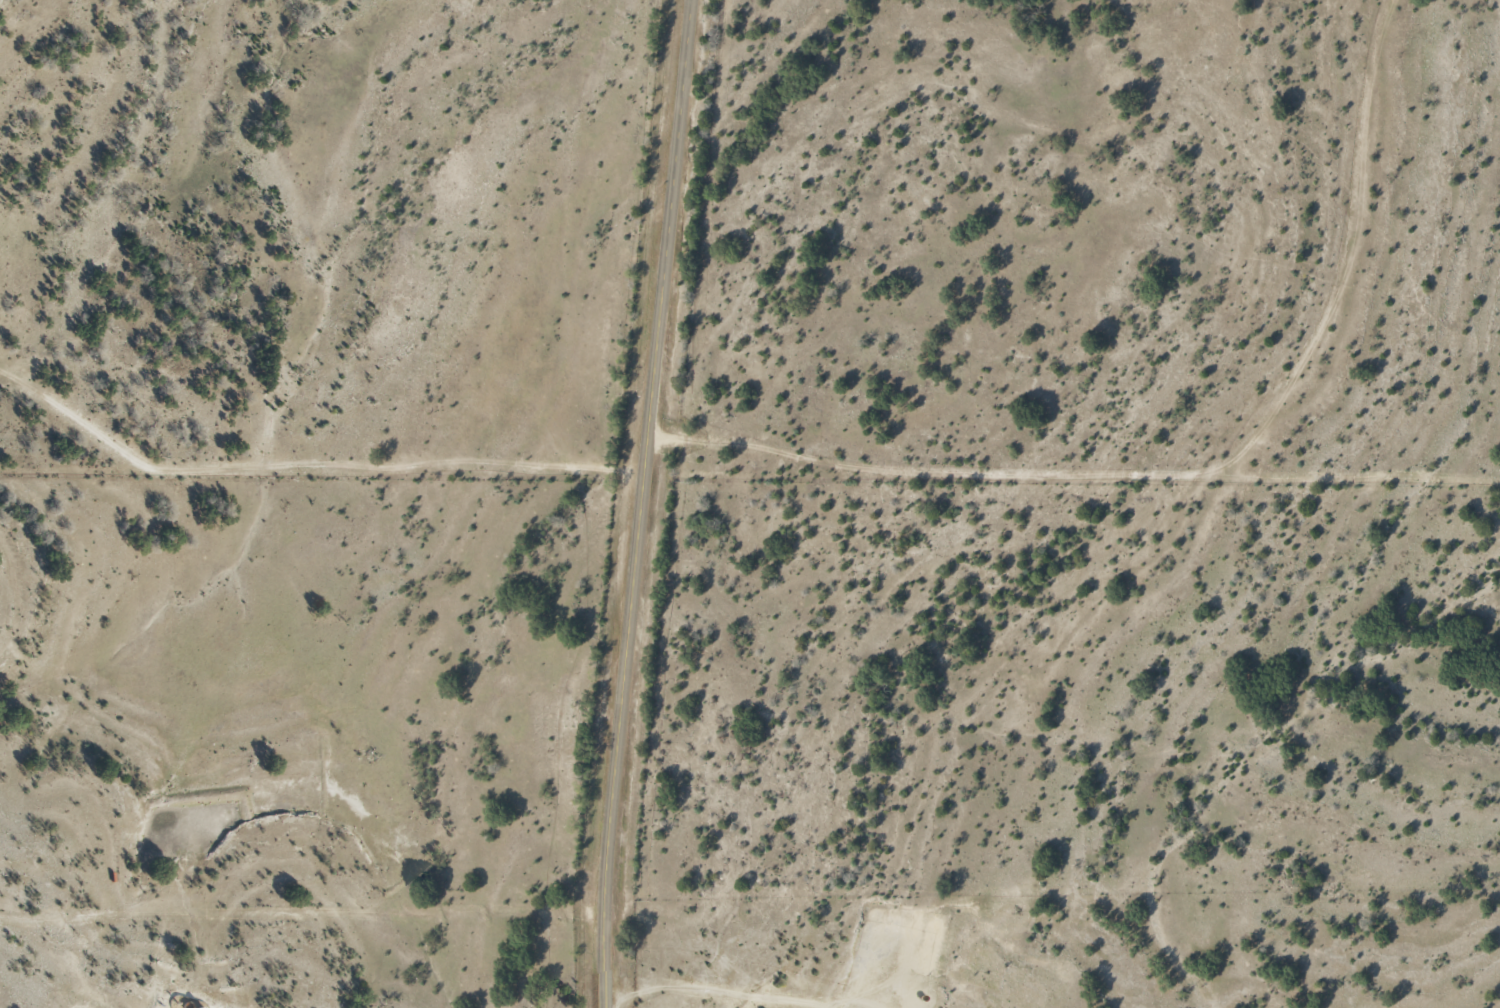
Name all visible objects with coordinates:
road: (314, 477)
road: (647, 503)
road: (303, 916)
road: (712, 998)

